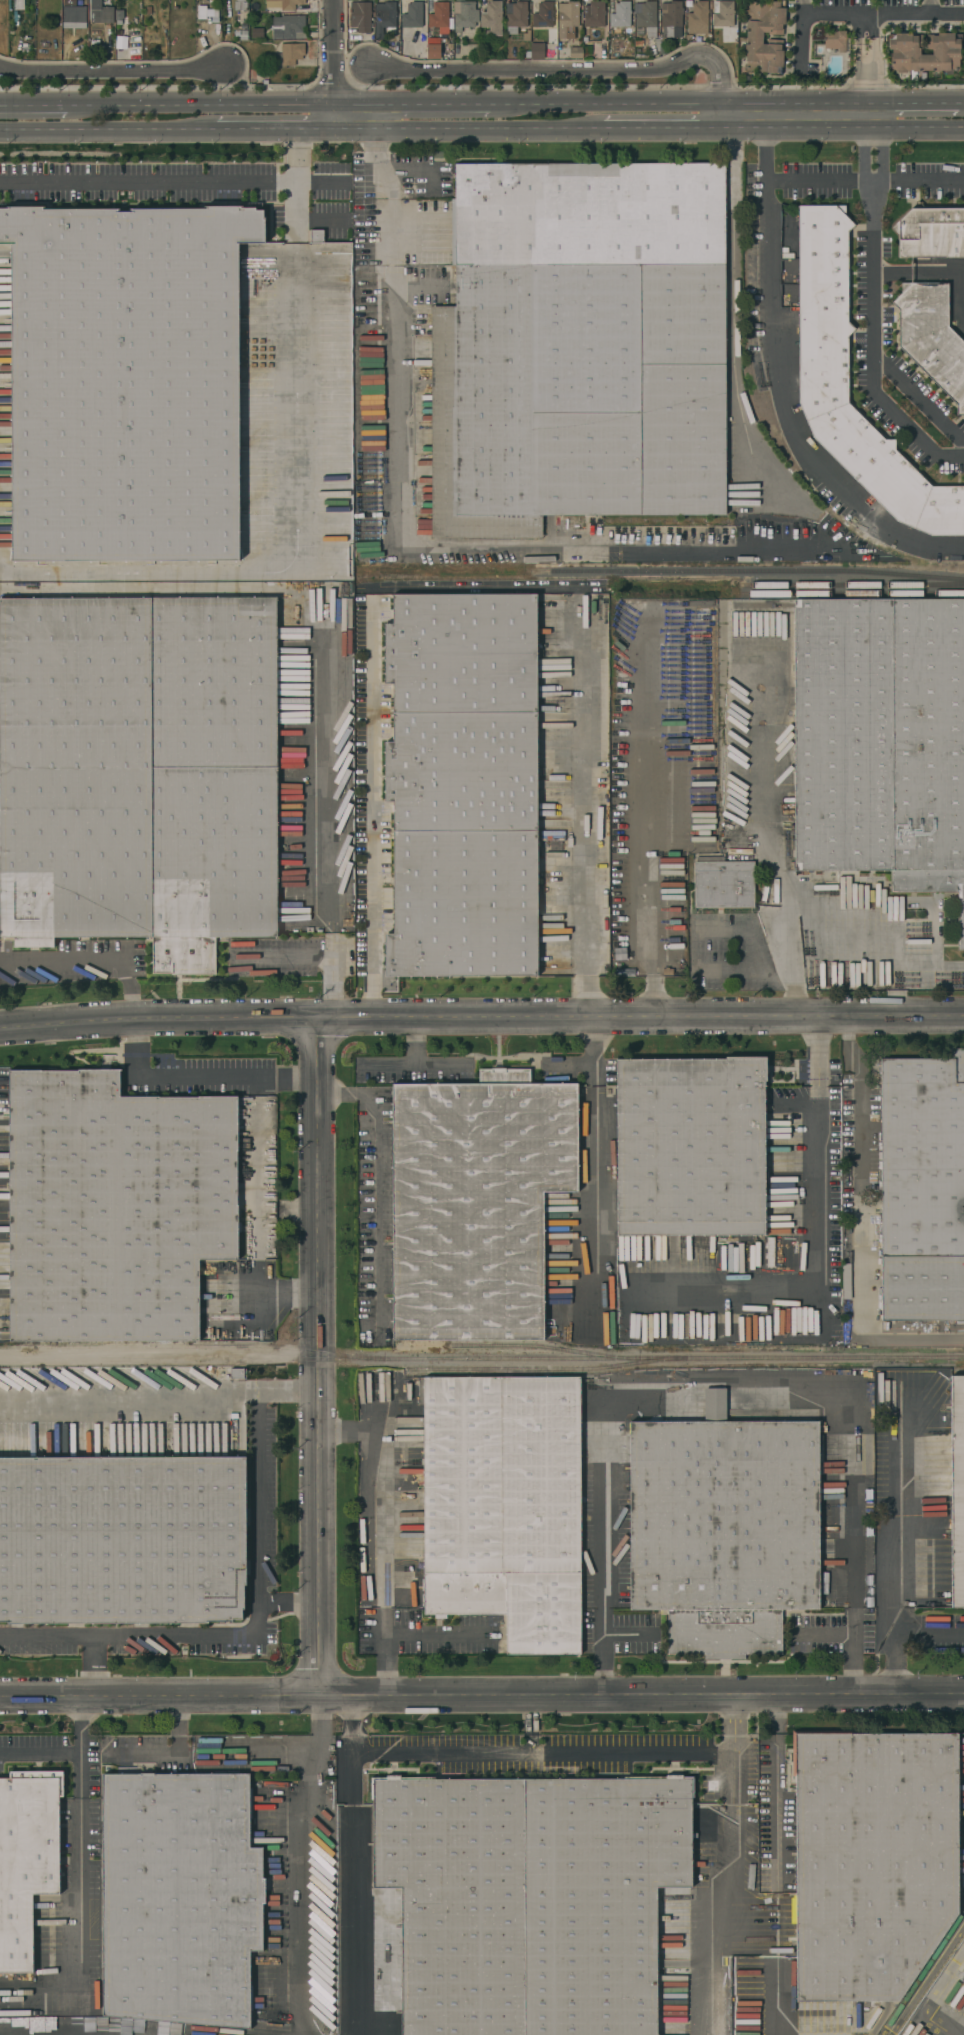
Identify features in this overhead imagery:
building: (70, 2)
building: (282, 4)
building: (19, 5)
building: (240, 5)
road: (929, 7)
road: (803, 8)
building: (148, 10)
building: (100, 12)
building: (201, 12)
building: (593, 13)
building: (723, 13)
building: (74, 14)
building: (542, 14)
building: (412, 15)
building: (439, 15)
building: (464, 15)
building: (620, 15)
road: (883, 15)
building: (119, 16)
building: (360, 16)
building: (516, 16)
building: (567, 17)
building: (647, 17)
building: (670, 17)
building: (696, 17)
building: (384, 18)
building: (492, 18)
building: (288, 26)
building: (257, 33)
building: (616, 33)
building: (753, 37)
building: (689, 38)
building: (835, 40)
road: (803, 43)
building: (450, 45)
building: (433, 49)
building: (663, 50)
building: (536, 51)
building: (575, 52)
building: (906, 52)
building: (289, 53)
road: (855, 58)
road: (873, 58)
road: (334, 65)
road: (116, 70)
road: (581, 72)
road: (915, 100)
road: (960, 100)
road: (680, 101)
road: (411, 102)
road: (199, 103)
road: (33, 104)
road: (663, 130)
road: (844, 130)
road: (468, 131)
road: (270, 132)
road: (103, 133)
road: (918, 181)
road: (148, 182)
road: (820, 182)
road: (296, 188)
building: (931, 232)
building: (315, 236)
road: (918, 275)
road: (871, 304)
road: (732, 319)
building: (932, 337)
building: (582, 346)
building: (825, 370)
road: (782, 375)
building: (125, 380)
road: (917, 399)
railway: (671, 521)
road: (390, 550)
road: (296, 551)
railway: (851, 585)
railway: (851, 593)
building: (881, 739)
building: (140, 774)
building: (462, 787)
road: (584, 811)
road: (331, 814)
road: (378, 817)
road: (641, 817)
road: (765, 835)
building: (725, 885)
road: (693, 951)
road: (877, 956)
road: (89, 959)
road: (481, 1018)
road: (417, 1042)
road: (588, 1042)
road: (482, 1066)
road: (590, 1075)
road: (198, 1077)
road: (590, 1097)
building: (692, 1148)
building: (118, 1154)
road: (373, 1176)
building: (924, 1190)
building: (476, 1205)
road: (588, 1209)
road: (863, 1224)
road: (817, 1242)
road: (277, 1298)
railway: (548, 1347)
road: (320, 1358)
railway: (803, 1358)
railway: (461, 1359)
railway: (543, 1370)
building: (238, 1372)
road: (728, 1380)
road: (288, 1392)
road: (343, 1430)
building: (957, 1488)
road: (256, 1494)
building: (504, 1504)
road: (893, 1517)
building: (723, 1528)
road: (381, 1531)
building: (123, 1538)
road: (291, 1602)
road: (896, 1634)
road: (432, 1636)
road: (46, 1637)
road: (385, 1666)
road: (481, 1697)
road: (178, 1728)
road: (731, 1743)
road: (39, 1755)
road: (473, 1757)
road: (629, 1759)
road: (776, 1793)
road: (78, 1855)
building: (873, 1862)
building: (26, 1863)
road: (297, 1863)
road: (353, 1865)
building: (181, 1900)
building: (530, 1901)
road: (924, 1977)
building: (962, 1982)
building: (963, 1989)
road: (938, 1997)

